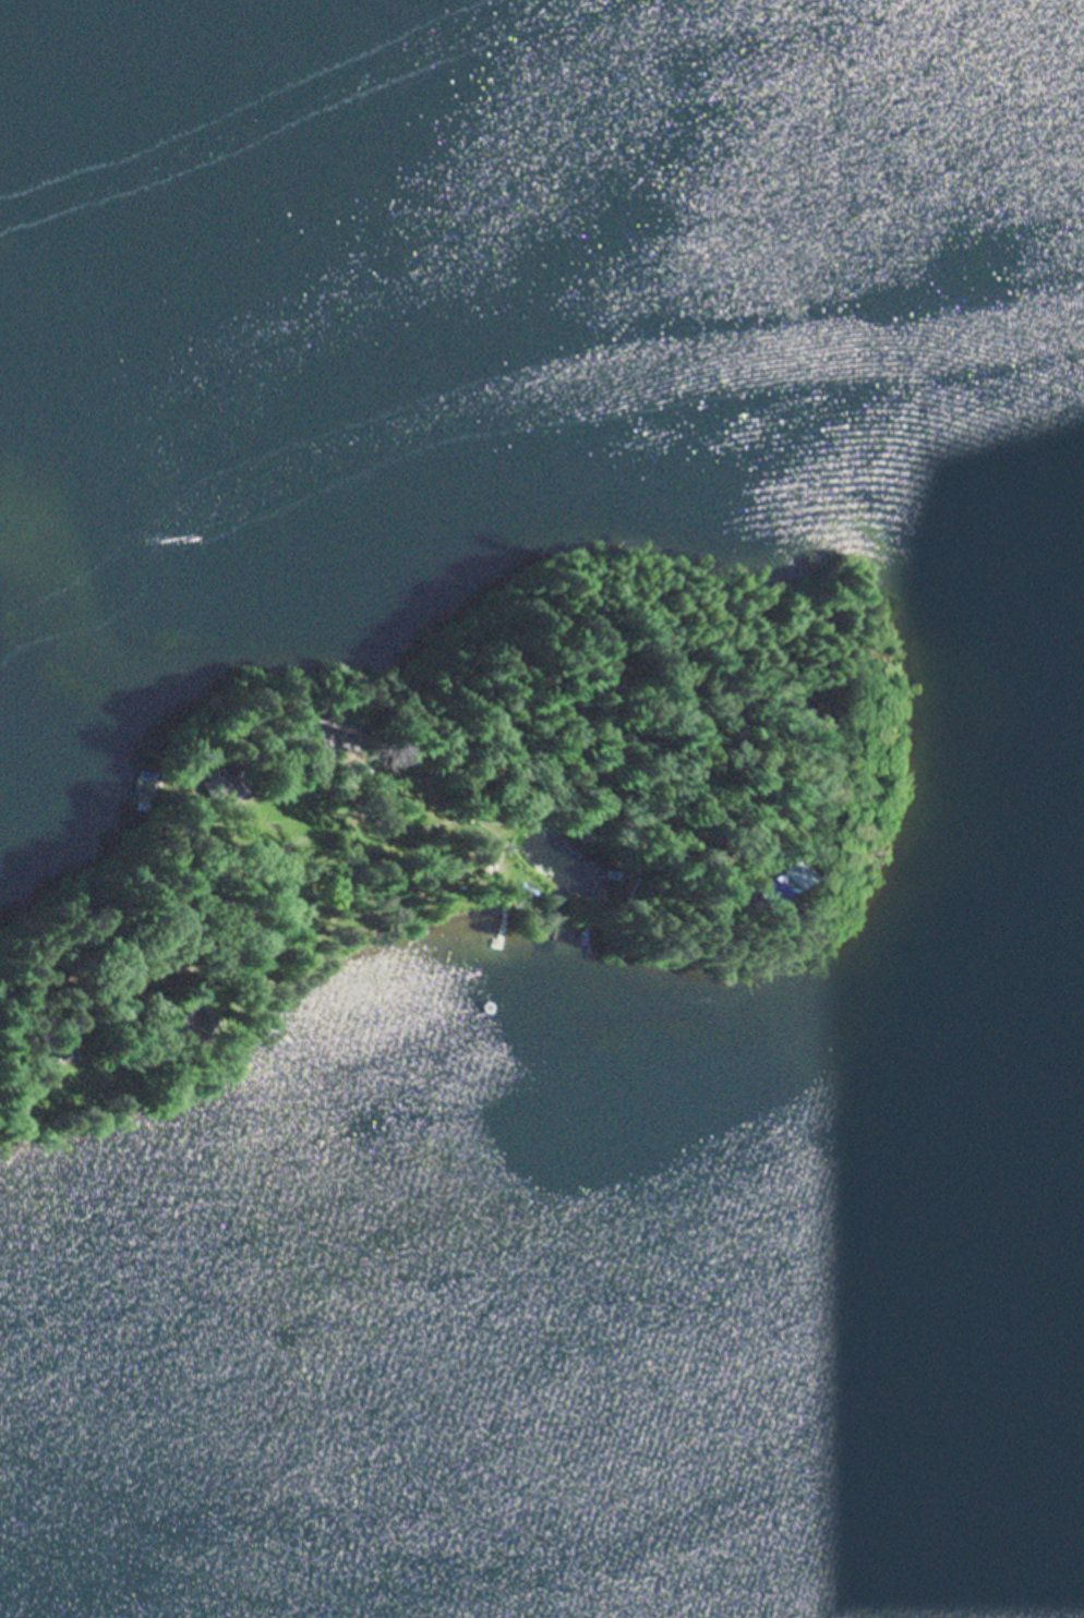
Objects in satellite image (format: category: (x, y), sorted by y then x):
building: (818, 710)
building: (217, 783)
building: (587, 830)
building: (45, 952)
building: (64, 966)
building: (190, 1026)
building: (61, 1045)

